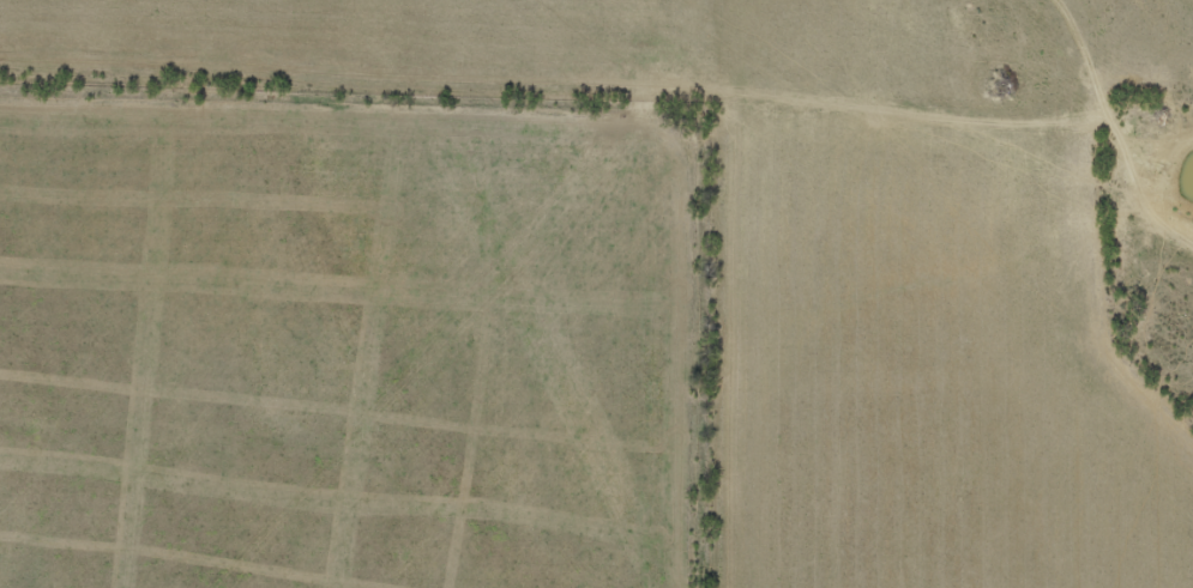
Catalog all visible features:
road: (1191, 2)

